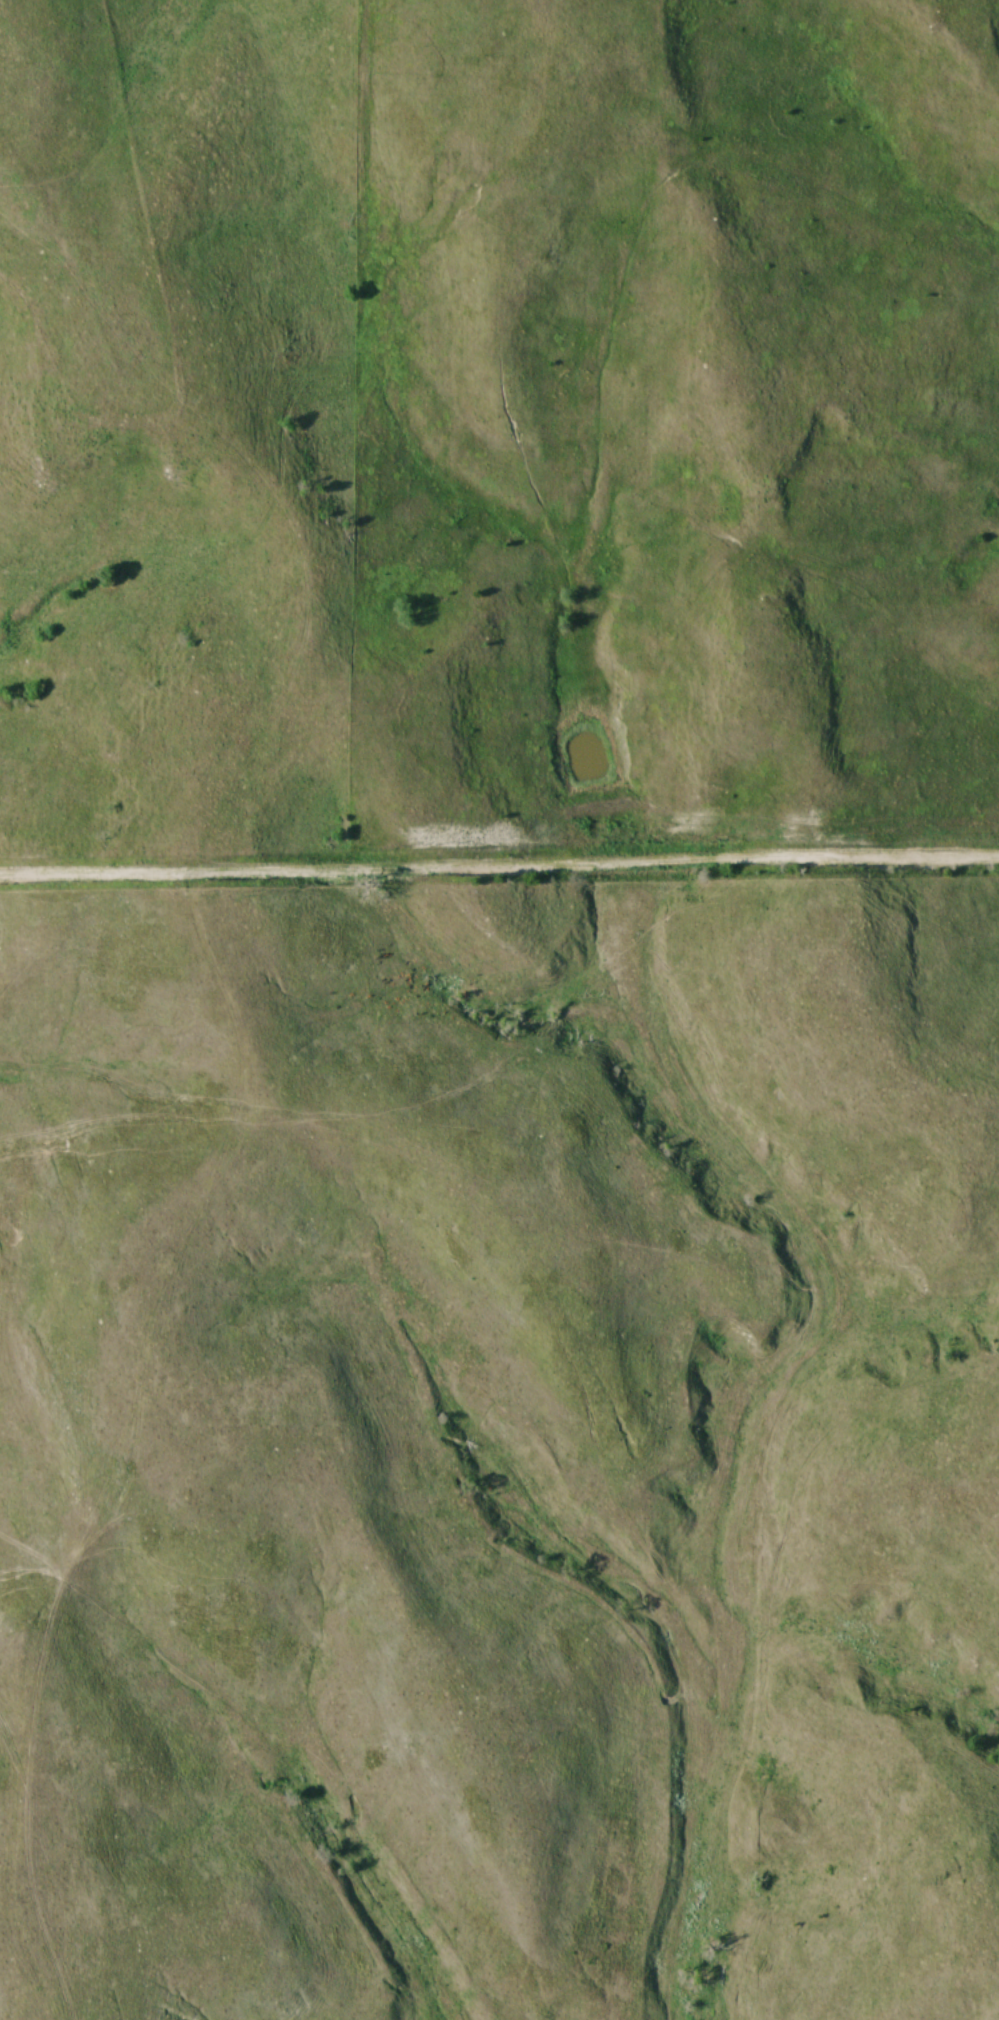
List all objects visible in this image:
road: (499, 864)

